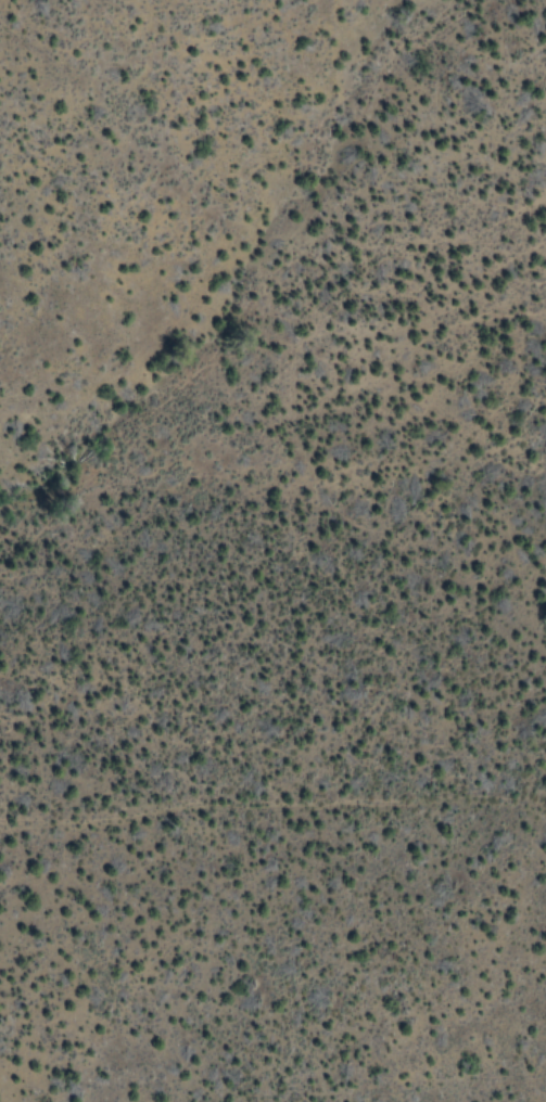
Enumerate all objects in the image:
road: (272, 796)

